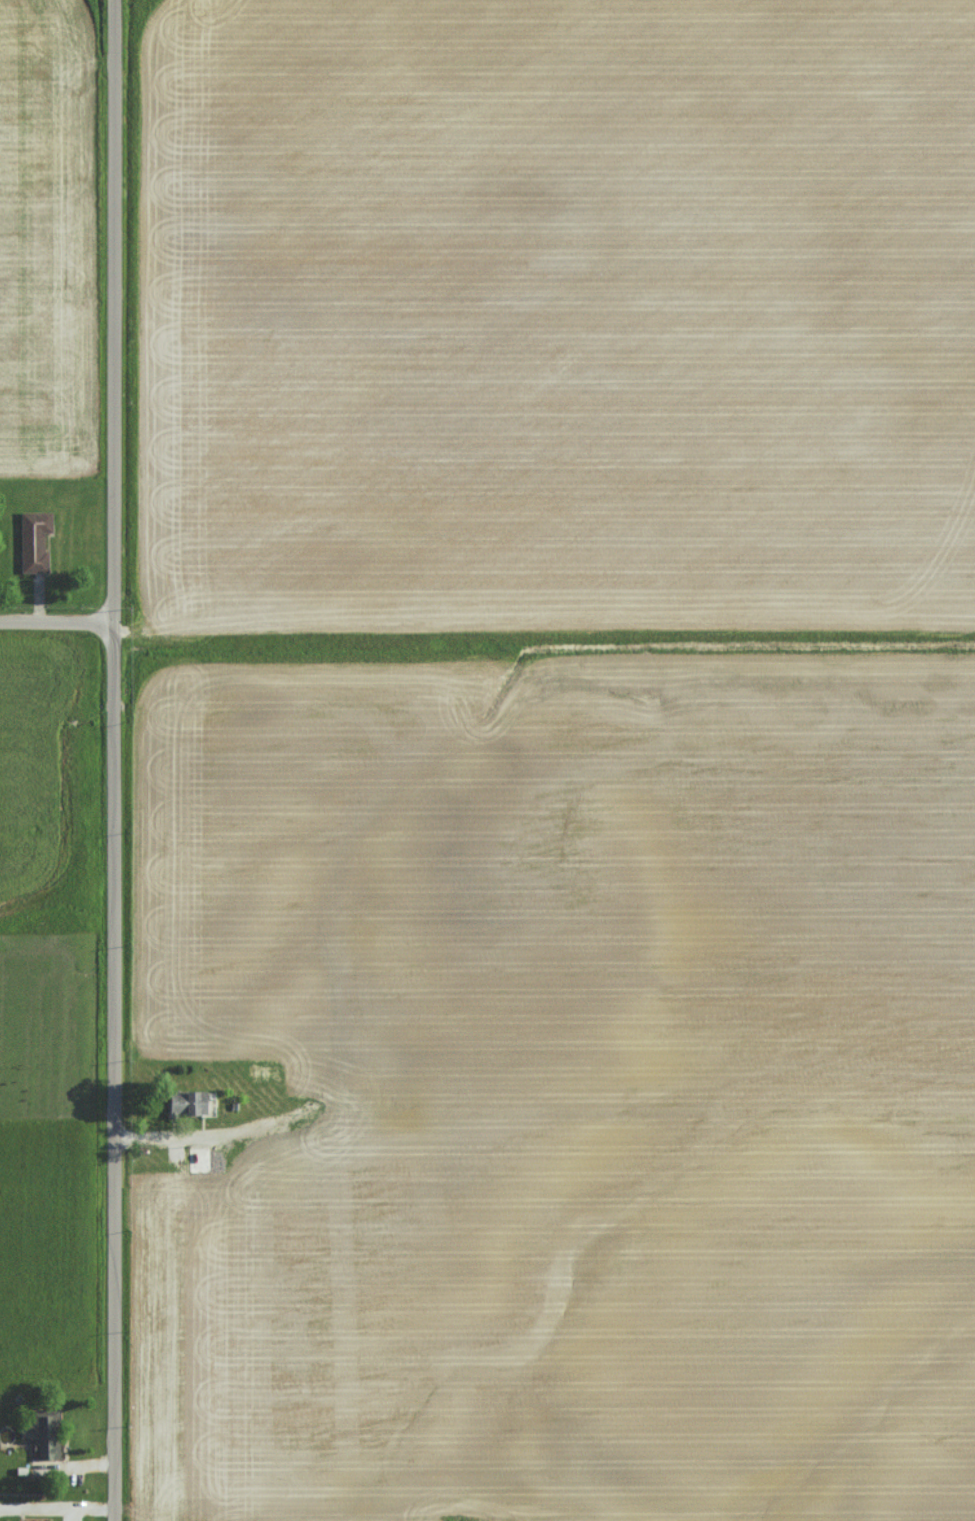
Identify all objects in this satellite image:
building: (34, 540)
road: (55, 623)
road: (111, 760)
building: (186, 1102)
building: (203, 1159)
building: (42, 1433)
road: (85, 1504)

